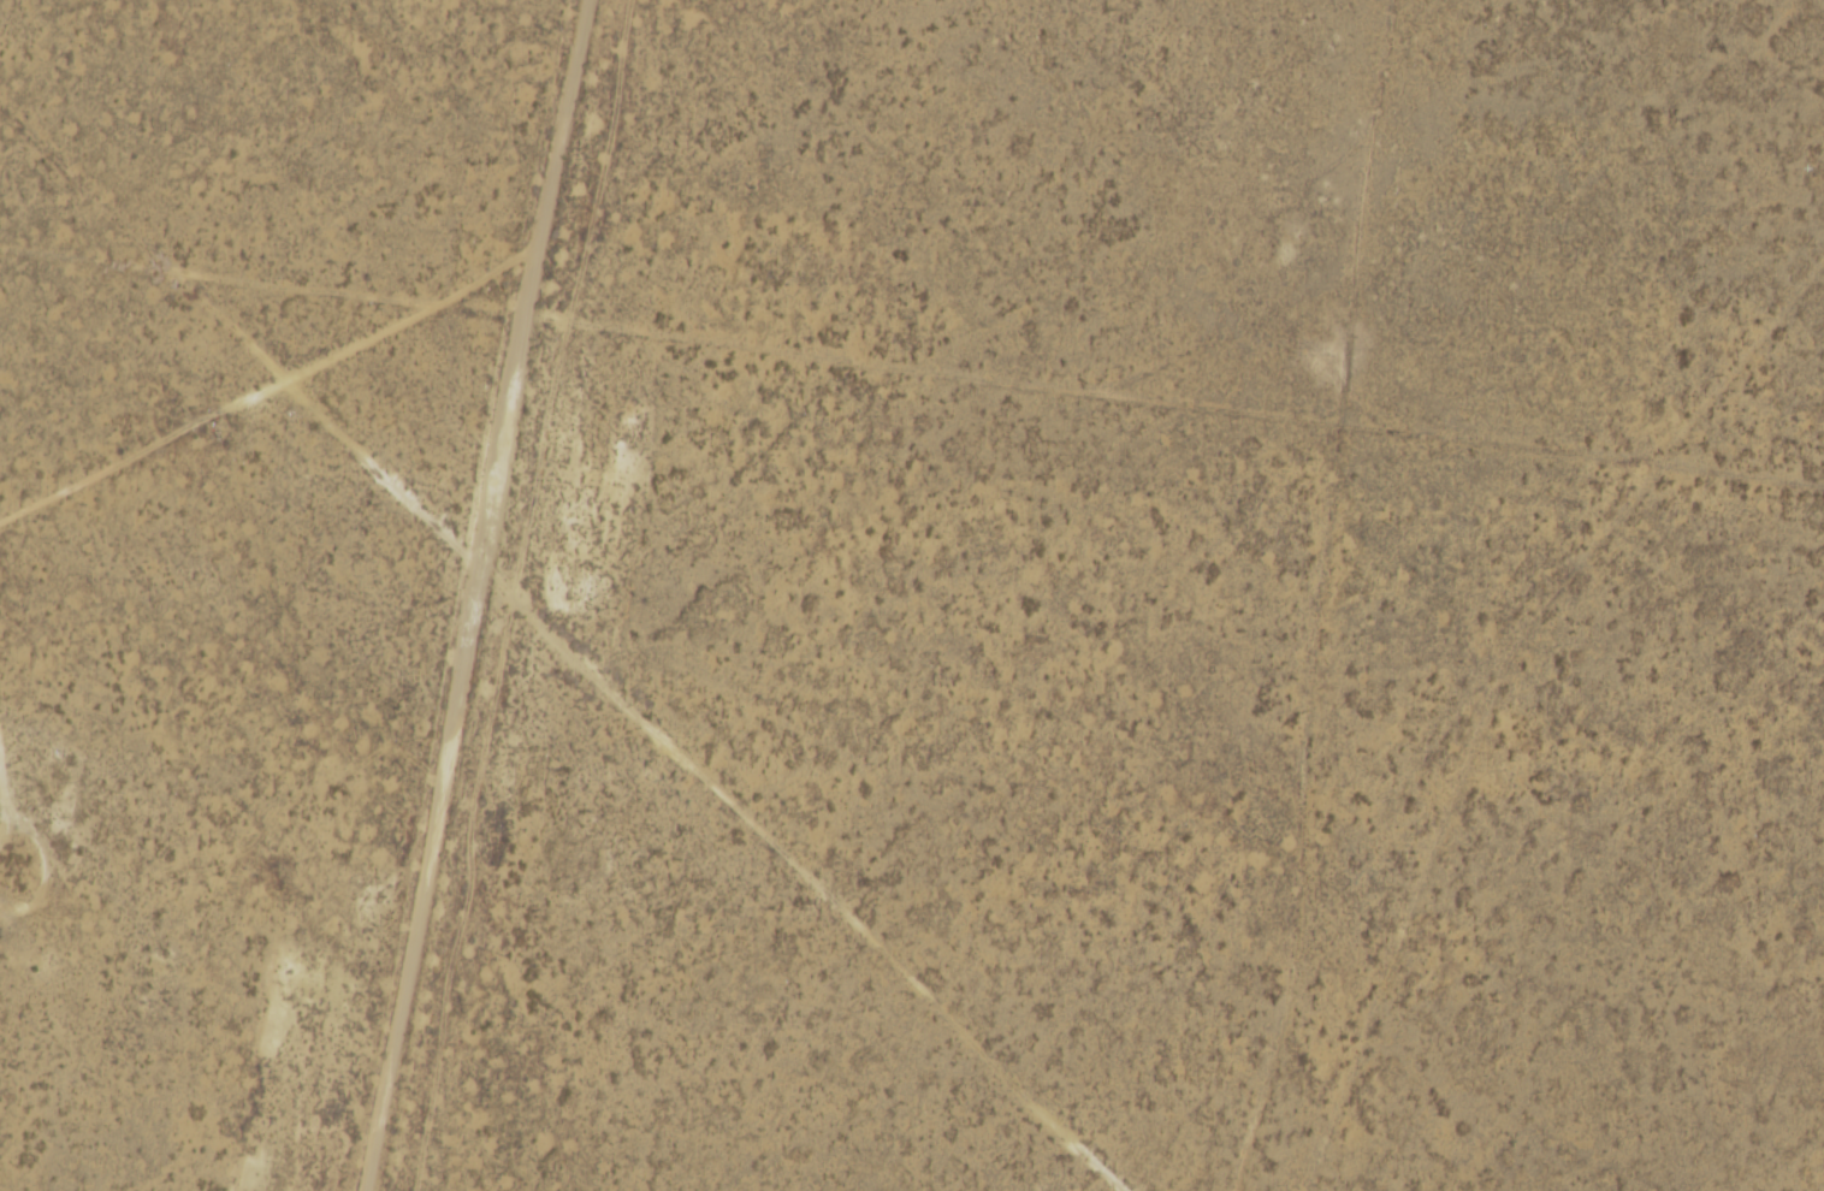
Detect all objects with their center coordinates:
road: (504, 298)
road: (550, 695)
road: (392, 893)

